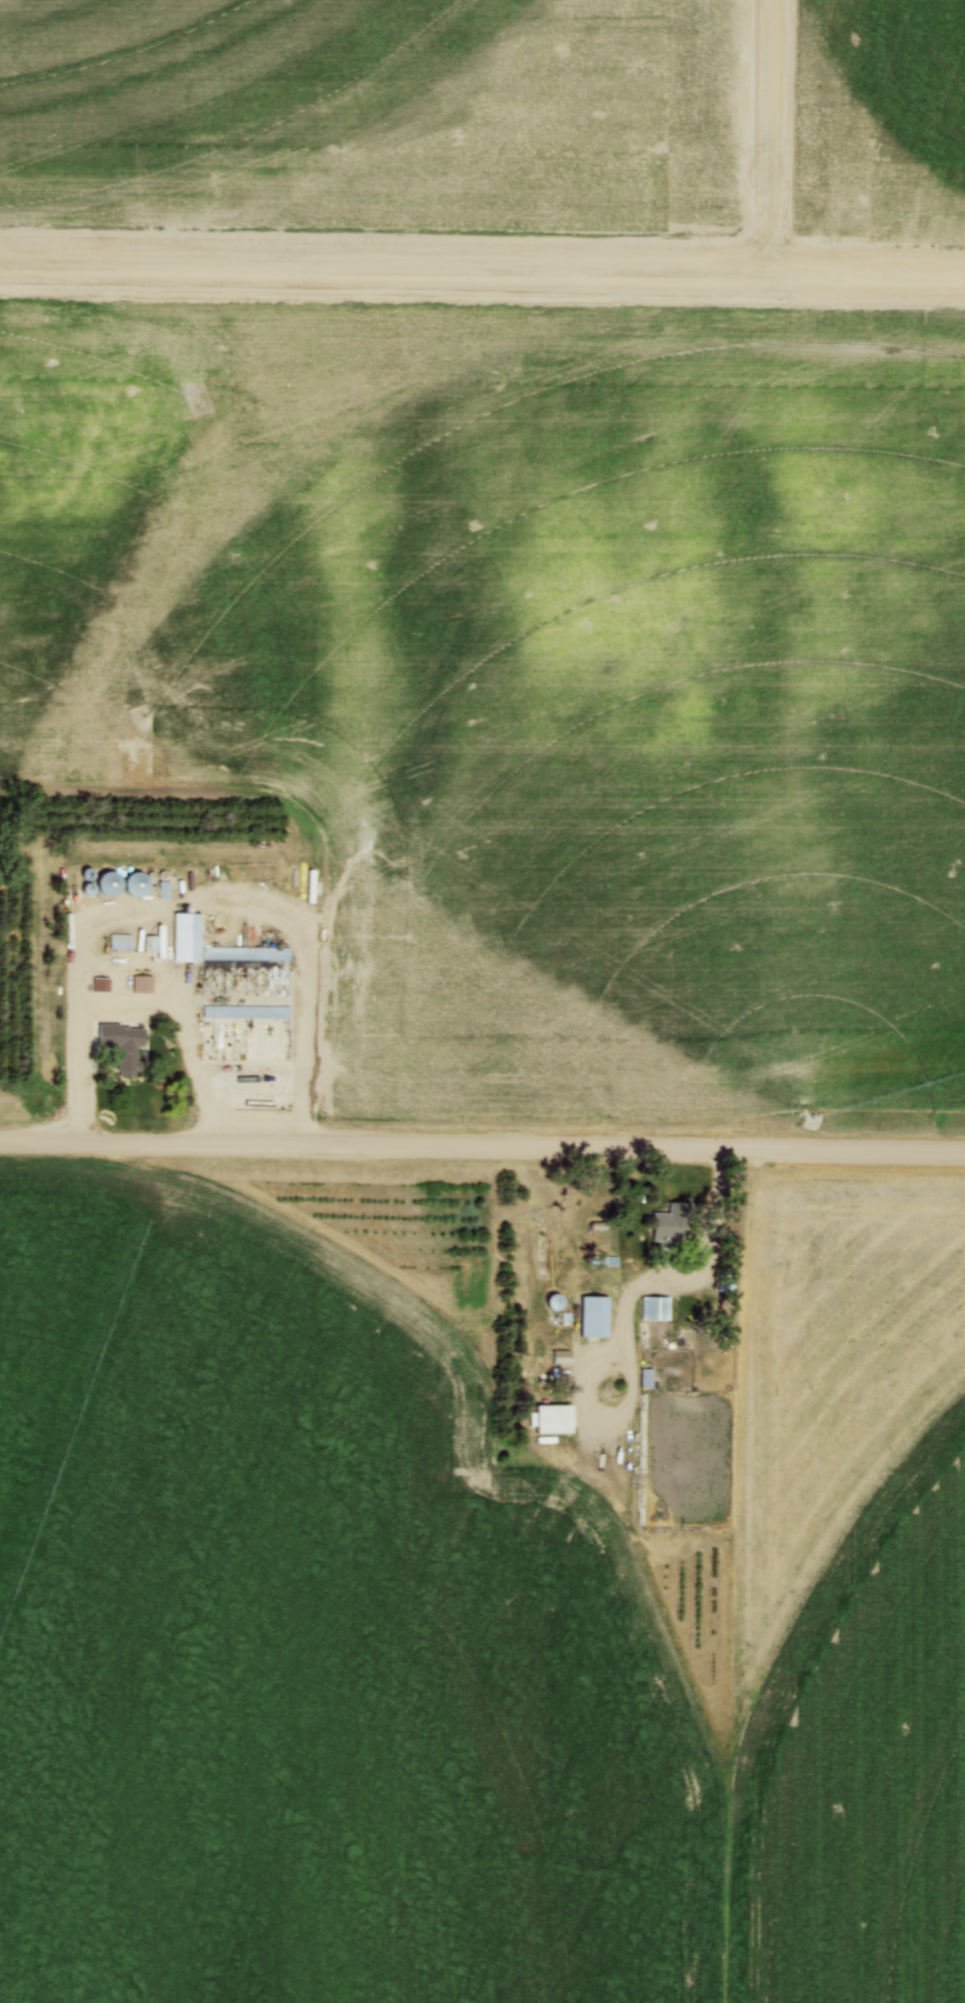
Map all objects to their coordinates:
crop: (375, 113)
crop: (877, 121)
airport runway: (787, 209)
airport runway: (493, 239)
airport runway: (482, 303)
crop: (531, 667)
building: (107, 885)
silo: (107, 885)
building: (134, 885)
silo: (134, 885)
road: (252, 904)
building: (186, 938)
building: (119, 943)
building: (246, 954)
building: (100, 984)
building: (143, 984)
road: (140, 1001)
building: (245, 1011)
building: (120, 1045)
road: (482, 1148)
building: (671, 1223)
road: (703, 1274)
building: (550, 1303)
building: (655, 1309)
building: (593, 1317)
building: (561, 1360)
building: (551, 1419)
crop: (465, 1630)

